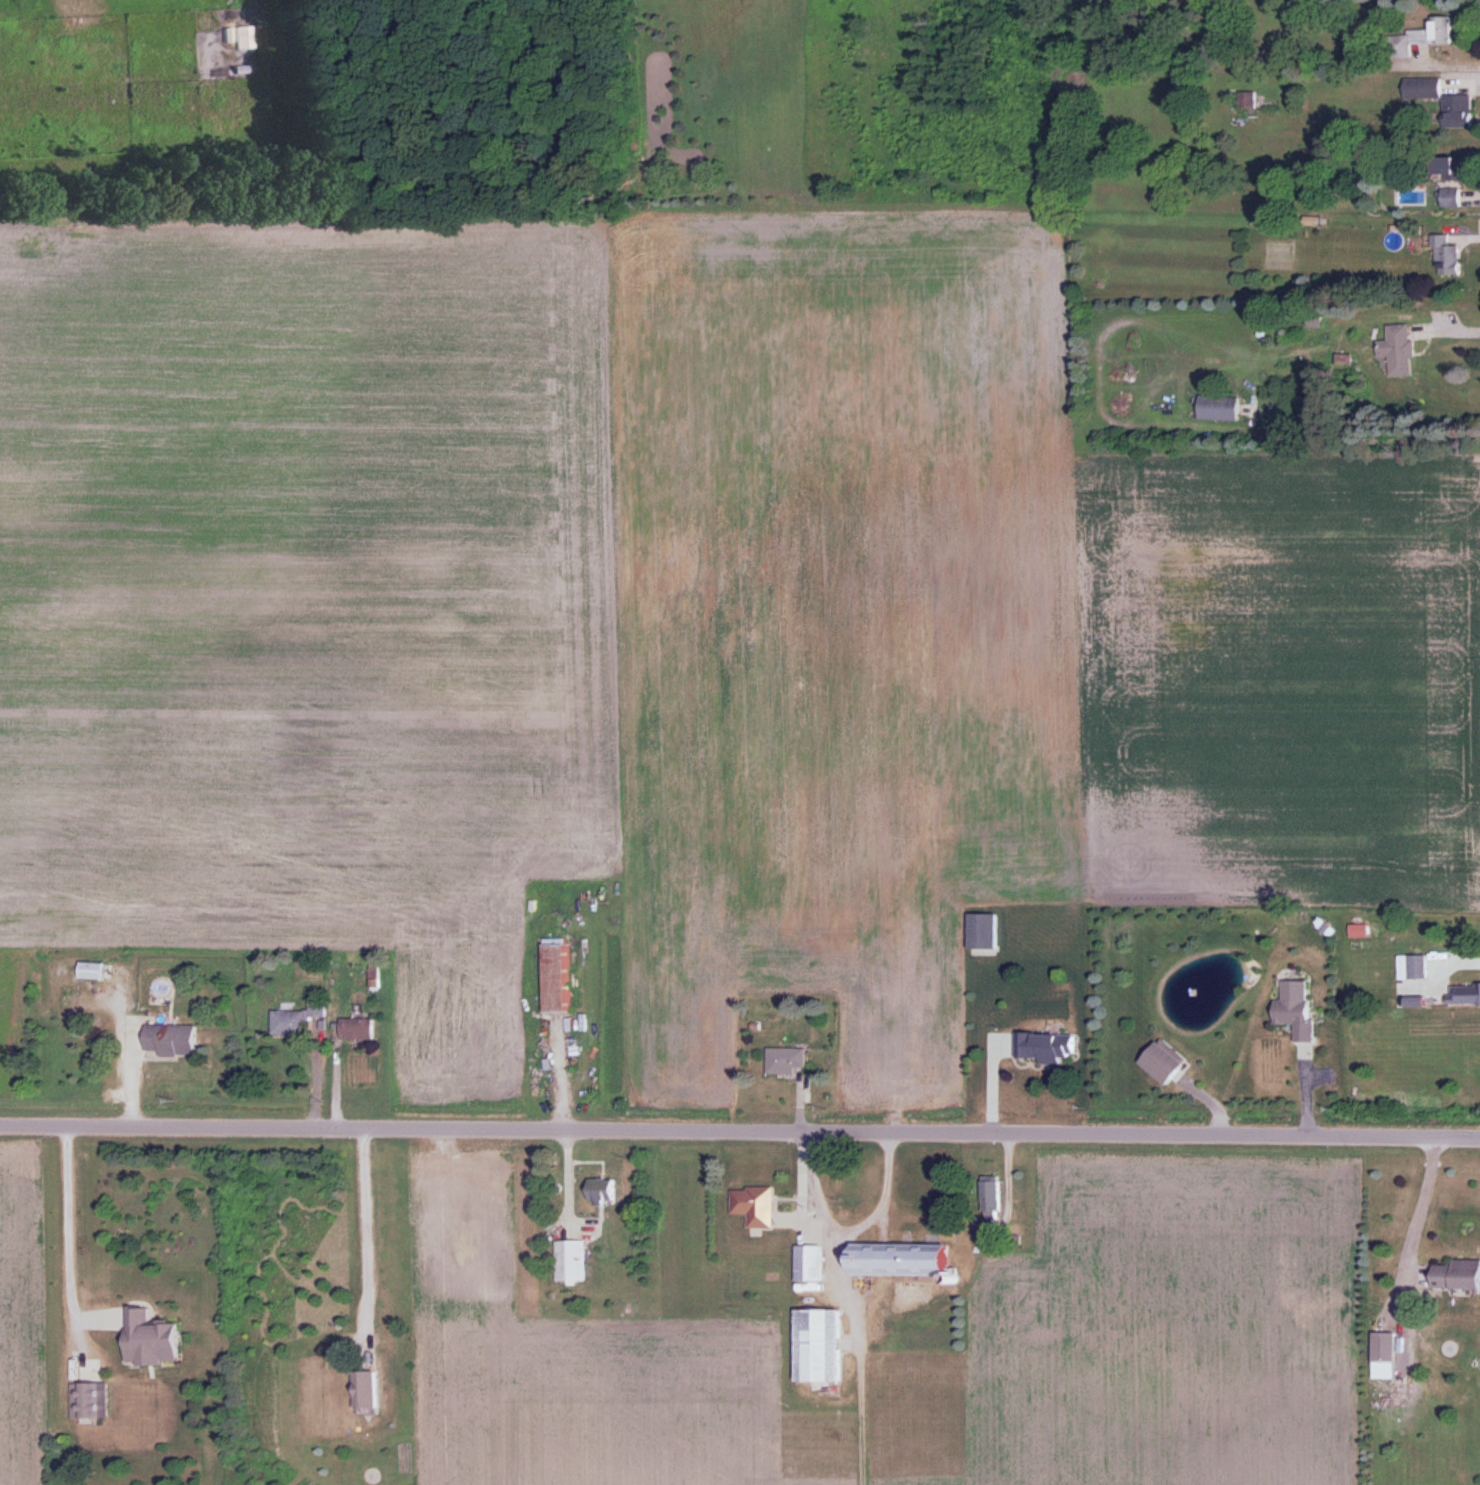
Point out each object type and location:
building: (1418, 37)
building: (241, 38)
building: (1244, 100)
building: (1455, 112)
building: (1446, 167)
building: (1447, 196)
building: (1444, 256)
road: (1449, 331)
building: (1395, 349)
building: (1216, 408)
building: (980, 932)
road: (1458, 962)
building: (87, 972)
building: (554, 977)
building: (371, 979)
building: (1411, 980)
building: (1462, 995)
building: (1292, 1010)
building: (295, 1019)
building: (353, 1030)
building: (168, 1041)
building: (1043, 1047)
building: (782, 1061)
building: (1159, 1062)
road: (739, 1132)
building: (598, 1190)
building: (988, 1199)
building: (751, 1206)
road: (1412, 1227)
road: (364, 1233)
road: (61, 1245)
building: (895, 1260)
building: (568, 1261)
building: (805, 1264)
building: (1454, 1276)
building: (148, 1341)
building: (814, 1347)
building: (1380, 1348)
building: (360, 1391)
building: (88, 1401)

